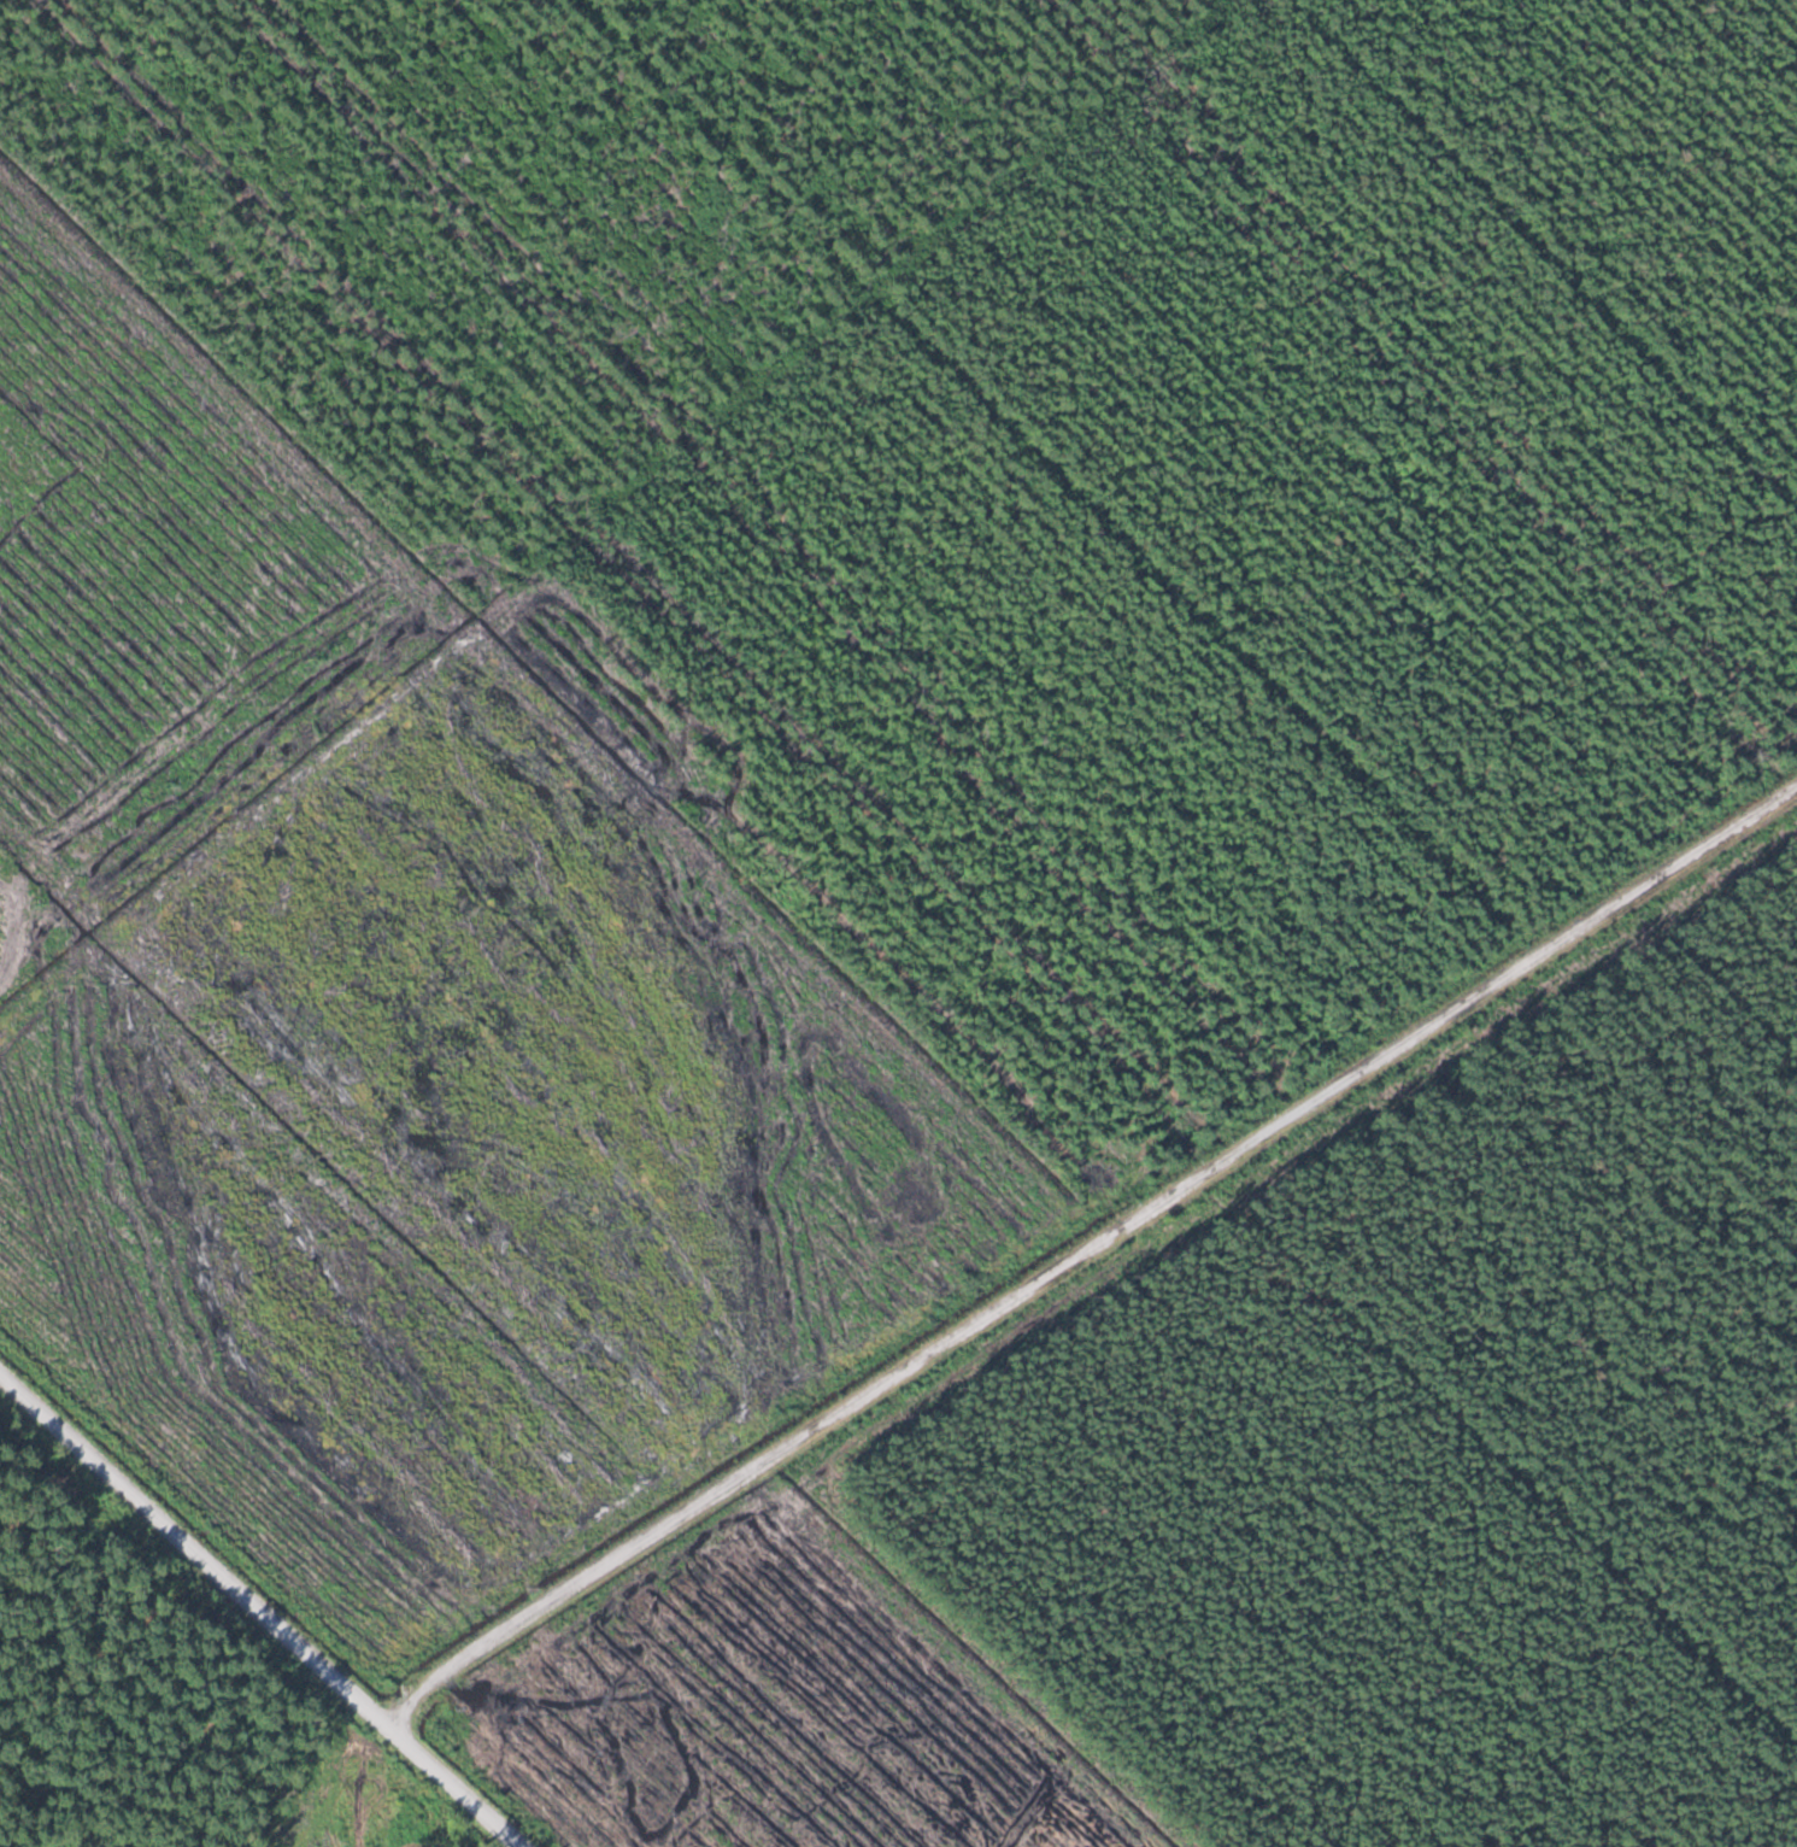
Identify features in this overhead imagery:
road: (1088, 1248)
road: (263, 1608)

